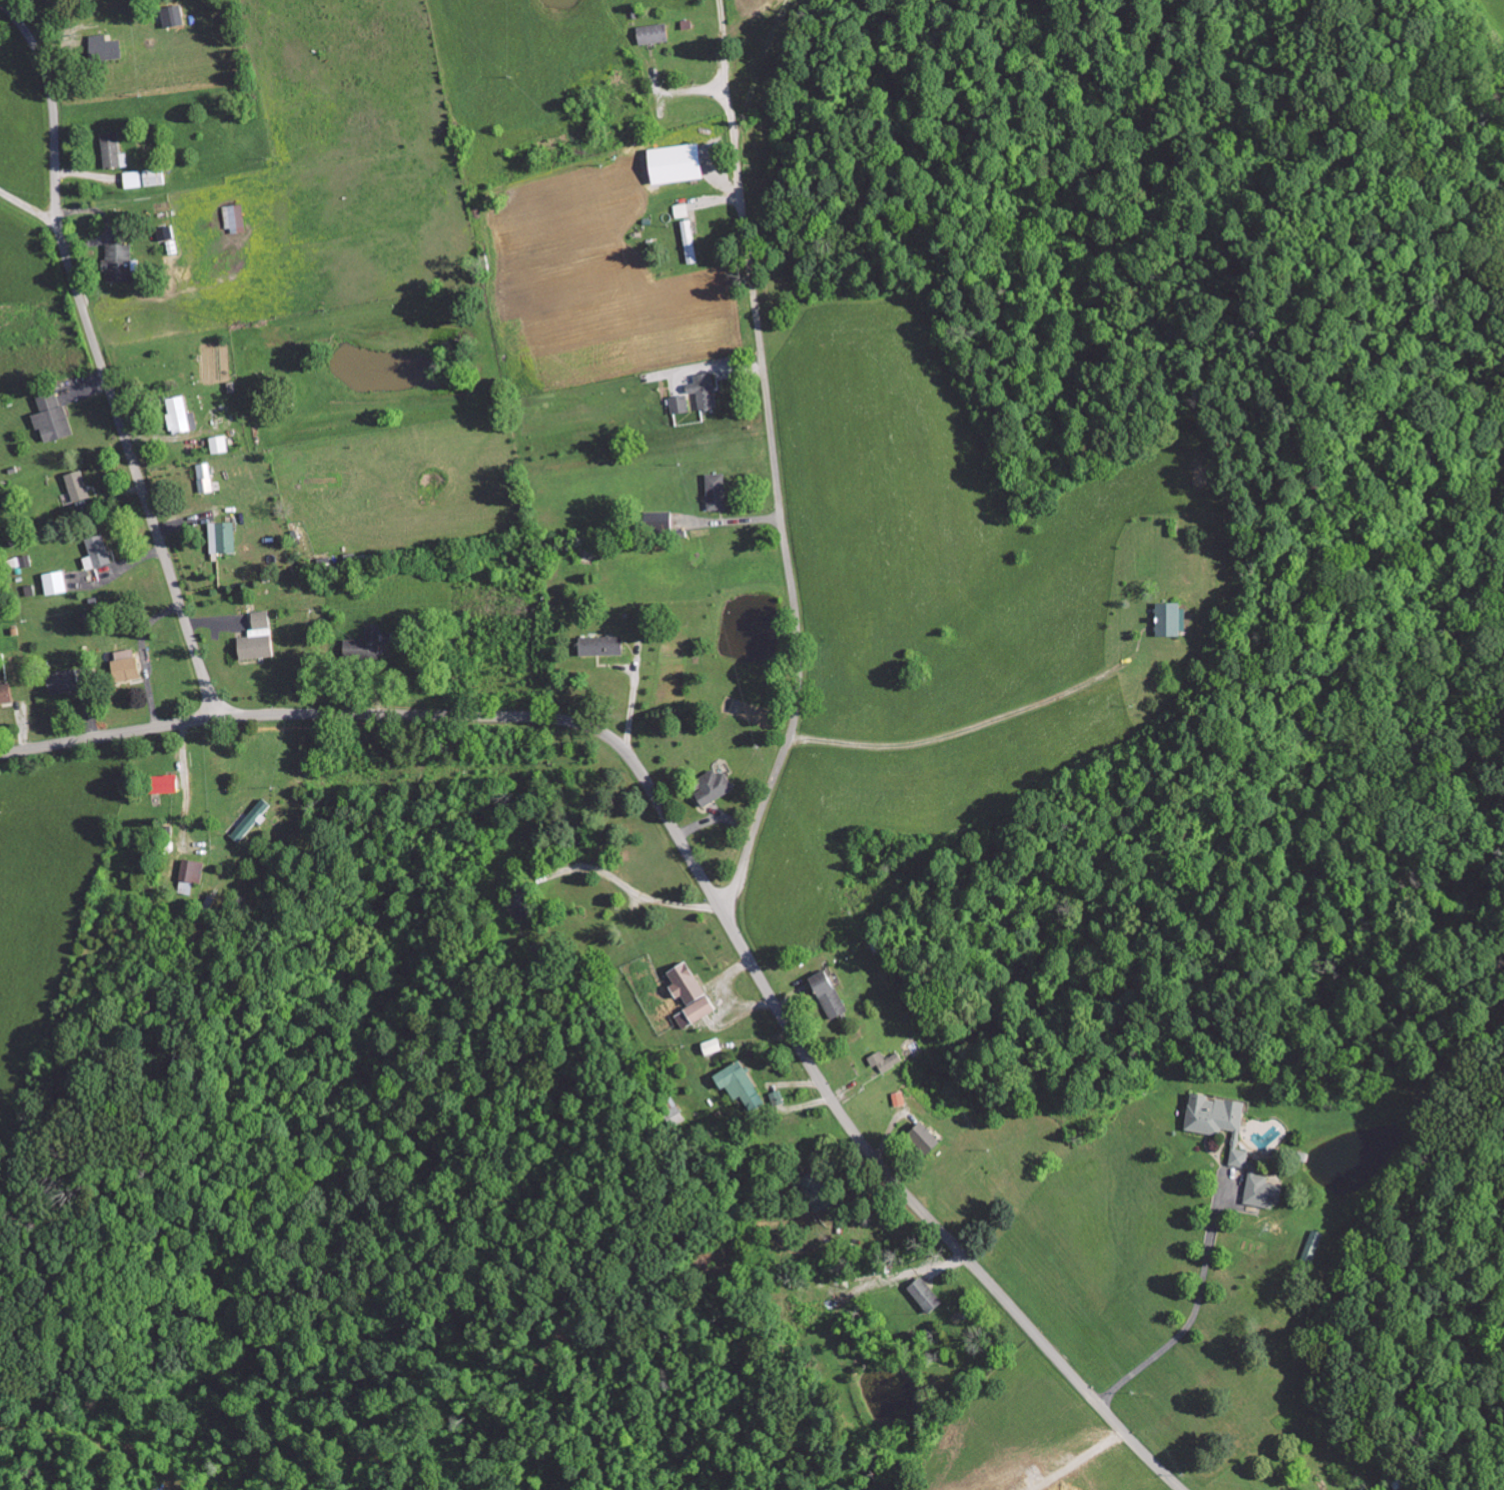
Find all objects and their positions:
building: (173, 15)
building: (655, 33)
building: (106, 46)
road: (725, 60)
building: (681, 162)
building: (155, 176)
building: (134, 178)
road: (29, 205)
building: (683, 209)
building: (235, 218)
building: (168, 236)
building: (119, 262)
road: (98, 358)
building: (706, 390)
building: (681, 404)
building: (182, 415)
building: (53, 416)
building: (221, 443)
building: (206, 477)
building: (79, 485)
building: (718, 491)
building: (663, 519)
road: (782, 523)
building: (224, 535)
building: (98, 550)
building: (26, 559)
building: (56, 580)
building: (1175, 617)
building: (259, 636)
building: (604, 643)
building: (365, 644)
building: (128, 663)
building: (65, 680)
building: (7, 690)
road: (972, 727)
road: (109, 734)
building: (168, 782)
road: (187, 783)
building: (716, 786)
building: (253, 818)
building: (191, 873)
road: (628, 883)
building: (522, 902)
road: (758, 972)
building: (832, 993)
building: (692, 994)
building: (714, 1044)
building: (889, 1059)
building: (743, 1084)
building: (902, 1097)
building: (779, 1098)
building: (929, 1136)
building: (1236, 1142)
building: (818, 1191)
building: (1315, 1244)
building: (927, 1294)
road: (1196, 1311)
road: (1077, 1459)

